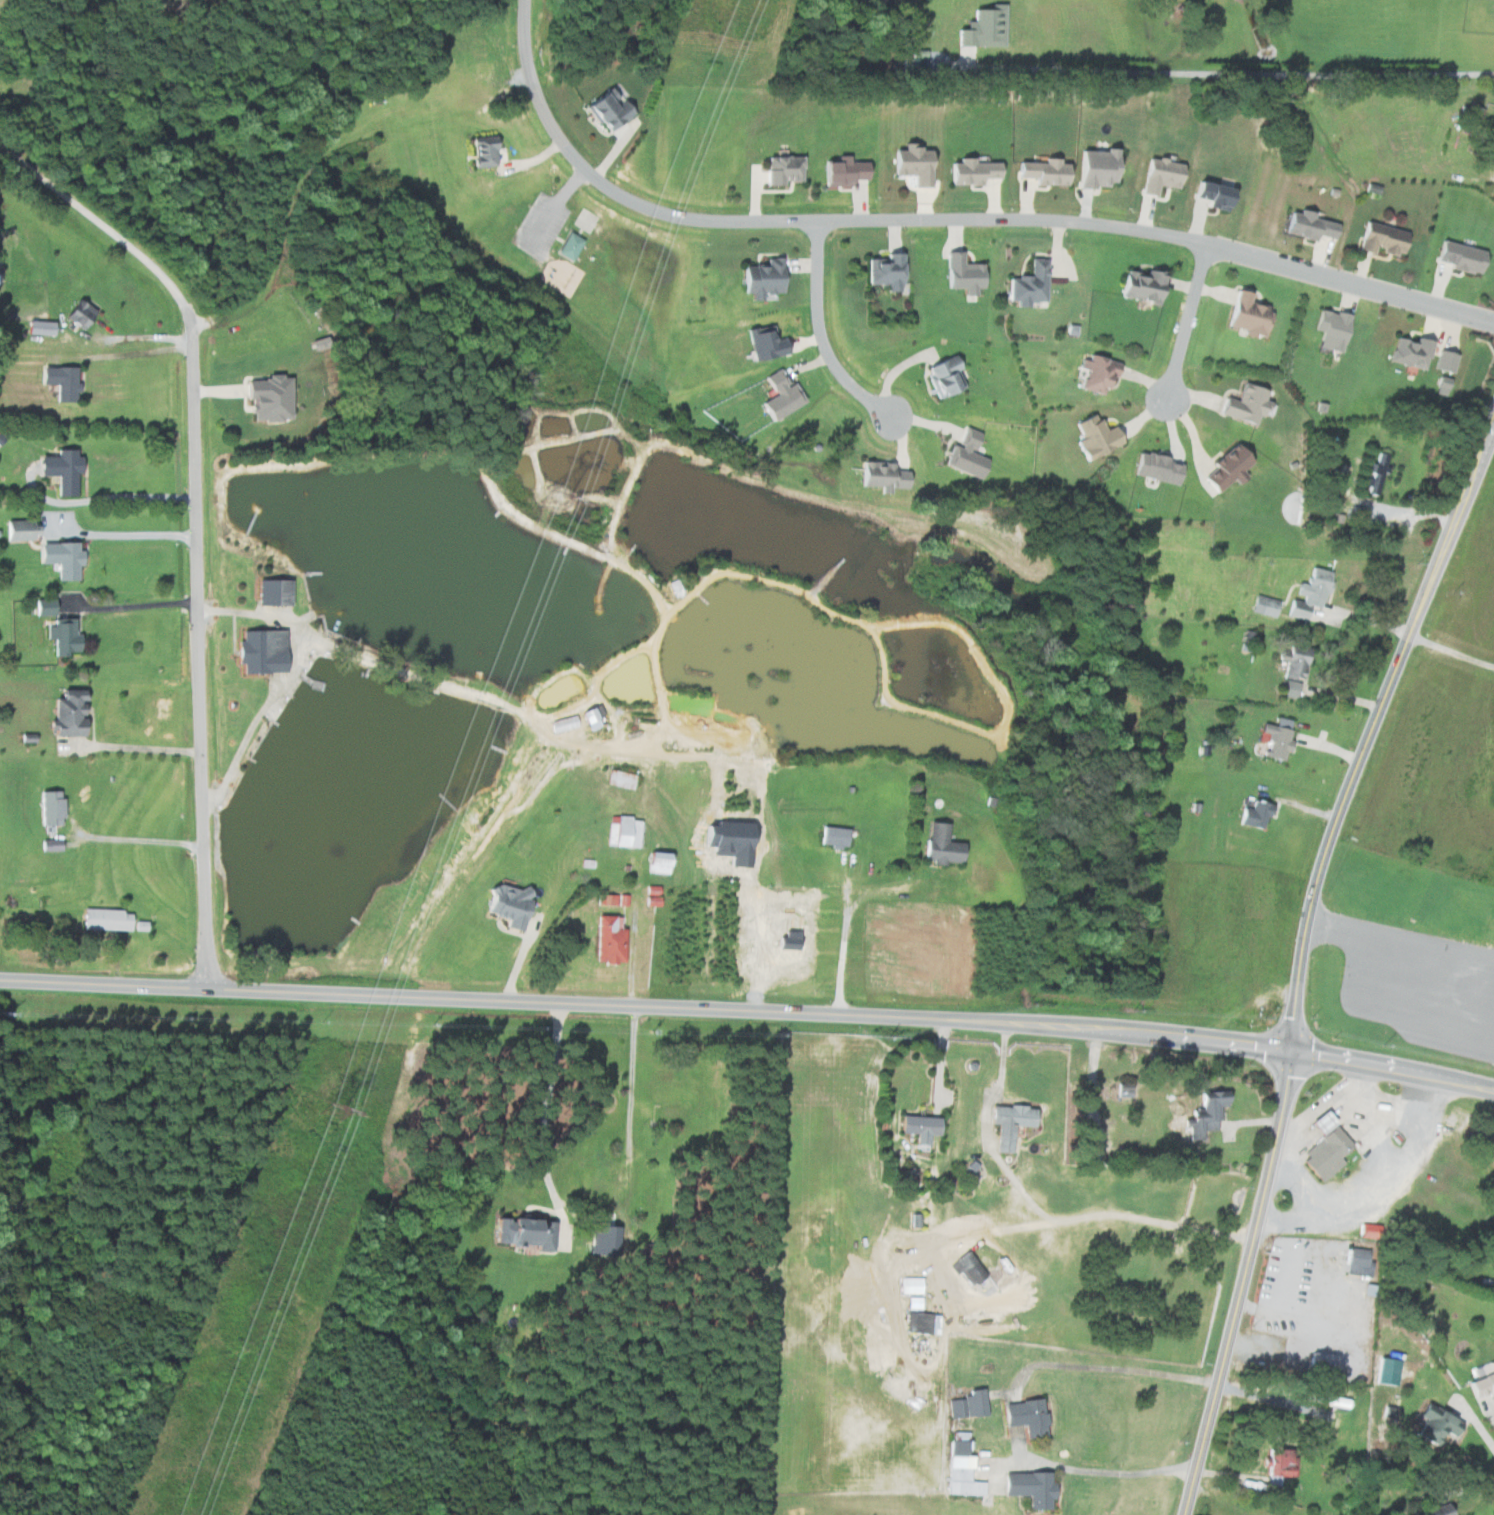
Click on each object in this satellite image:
building: (982, 28)
road: (1229, 73)
building: (606, 110)
building: (482, 152)
building: (911, 165)
building: (1095, 168)
building: (781, 170)
building: (840, 171)
building: (970, 172)
building: (1041, 172)
building: (1159, 175)
building: (1208, 195)
road: (551, 207)
road: (944, 219)
building: (1305, 226)
building: (1379, 239)
building: (568, 246)
building: (1459, 257)
building: (882, 272)
building: (961, 274)
building: (760, 279)
building: (1026, 285)
building: (1140, 286)
building: (76, 313)
building: (1245, 314)
road: (1185, 323)
building: (1329, 330)
road: (132, 332)
road: (821, 335)
building: (763, 345)
building: (1408, 353)
building: (1444, 362)
building: (1095, 375)
building: (942, 377)
building: (59, 382)
building: (1442, 386)
building: (777, 397)
building: (267, 398)
building: (1243, 405)
building: (1093, 437)
building: (964, 455)
building: (1154, 468)
building: (1226, 468)
building: (60, 470)
building: (1375, 474)
building: (879, 476)
road: (103, 499)
power tower: (553, 499)
road: (193, 525)
building: (17, 531)
road: (123, 533)
building: (60, 559)
building: (271, 593)
building: (1308, 594)
road: (142, 605)
building: (1263, 606)
building: (44, 608)
building: (63, 638)
road: (1450, 651)
building: (260, 652)
building: (1293, 662)
road: (288, 677)
building: (1288, 689)
road: (472, 694)
building: (66, 714)
building: (588, 719)
building: (1278, 739)
road: (133, 747)
building: (619, 779)
building: (49, 809)
building: (1252, 814)
building: (623, 832)
building: (832, 836)
road: (141, 840)
building: (938, 844)
building: (49, 846)
building: (656, 862)
building: (611, 899)
building: (506, 905)
road: (636, 916)
building: (105, 919)
building: (607, 938)
road: (844, 939)
road: (1398, 941)
road: (1299, 956)
road: (466, 999)
road: (1215, 1040)
road: (1324, 1103)
road: (1382, 1106)
power tower: (332, 1111)
building: (1205, 1114)
building: (1008, 1123)
building: (917, 1128)
building: (1324, 1154)
road: (1014, 1180)
road: (1372, 1186)
road: (1210, 1231)
building: (522, 1232)
road: (958, 1237)
road: (590, 1249)
building: (1356, 1262)
building: (966, 1268)
building: (911, 1291)
building: (917, 1322)
road: (1112, 1368)
building: (1480, 1384)
road: (1276, 1390)
building: (1333, 1402)
building: (968, 1405)
road: (1488, 1408)
building: (1025, 1416)
building: (1433, 1423)
road: (1480, 1425)
building: (1276, 1462)
building: (961, 1470)
road: (1098, 1471)
building: (1028, 1487)
road: (1462, 1490)
road: (1224, 1502)
building: (1436, 1510)

